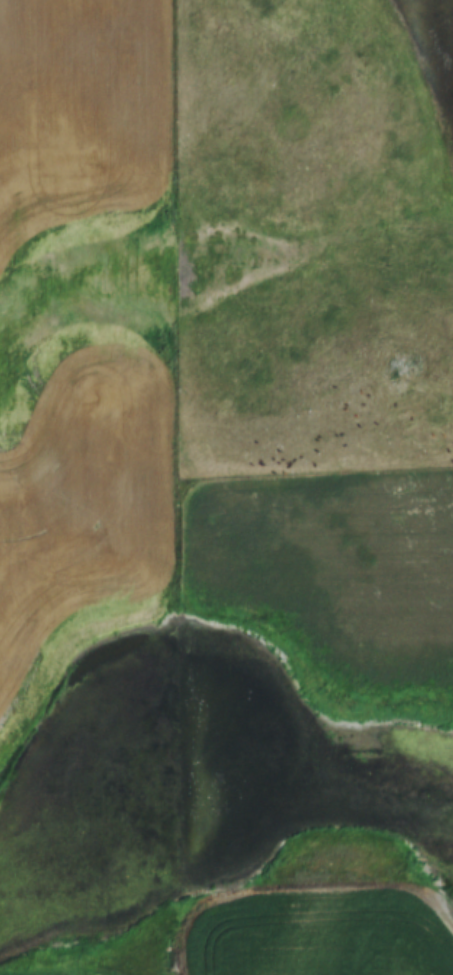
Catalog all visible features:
road: (168, 390)
road: (92, 955)

